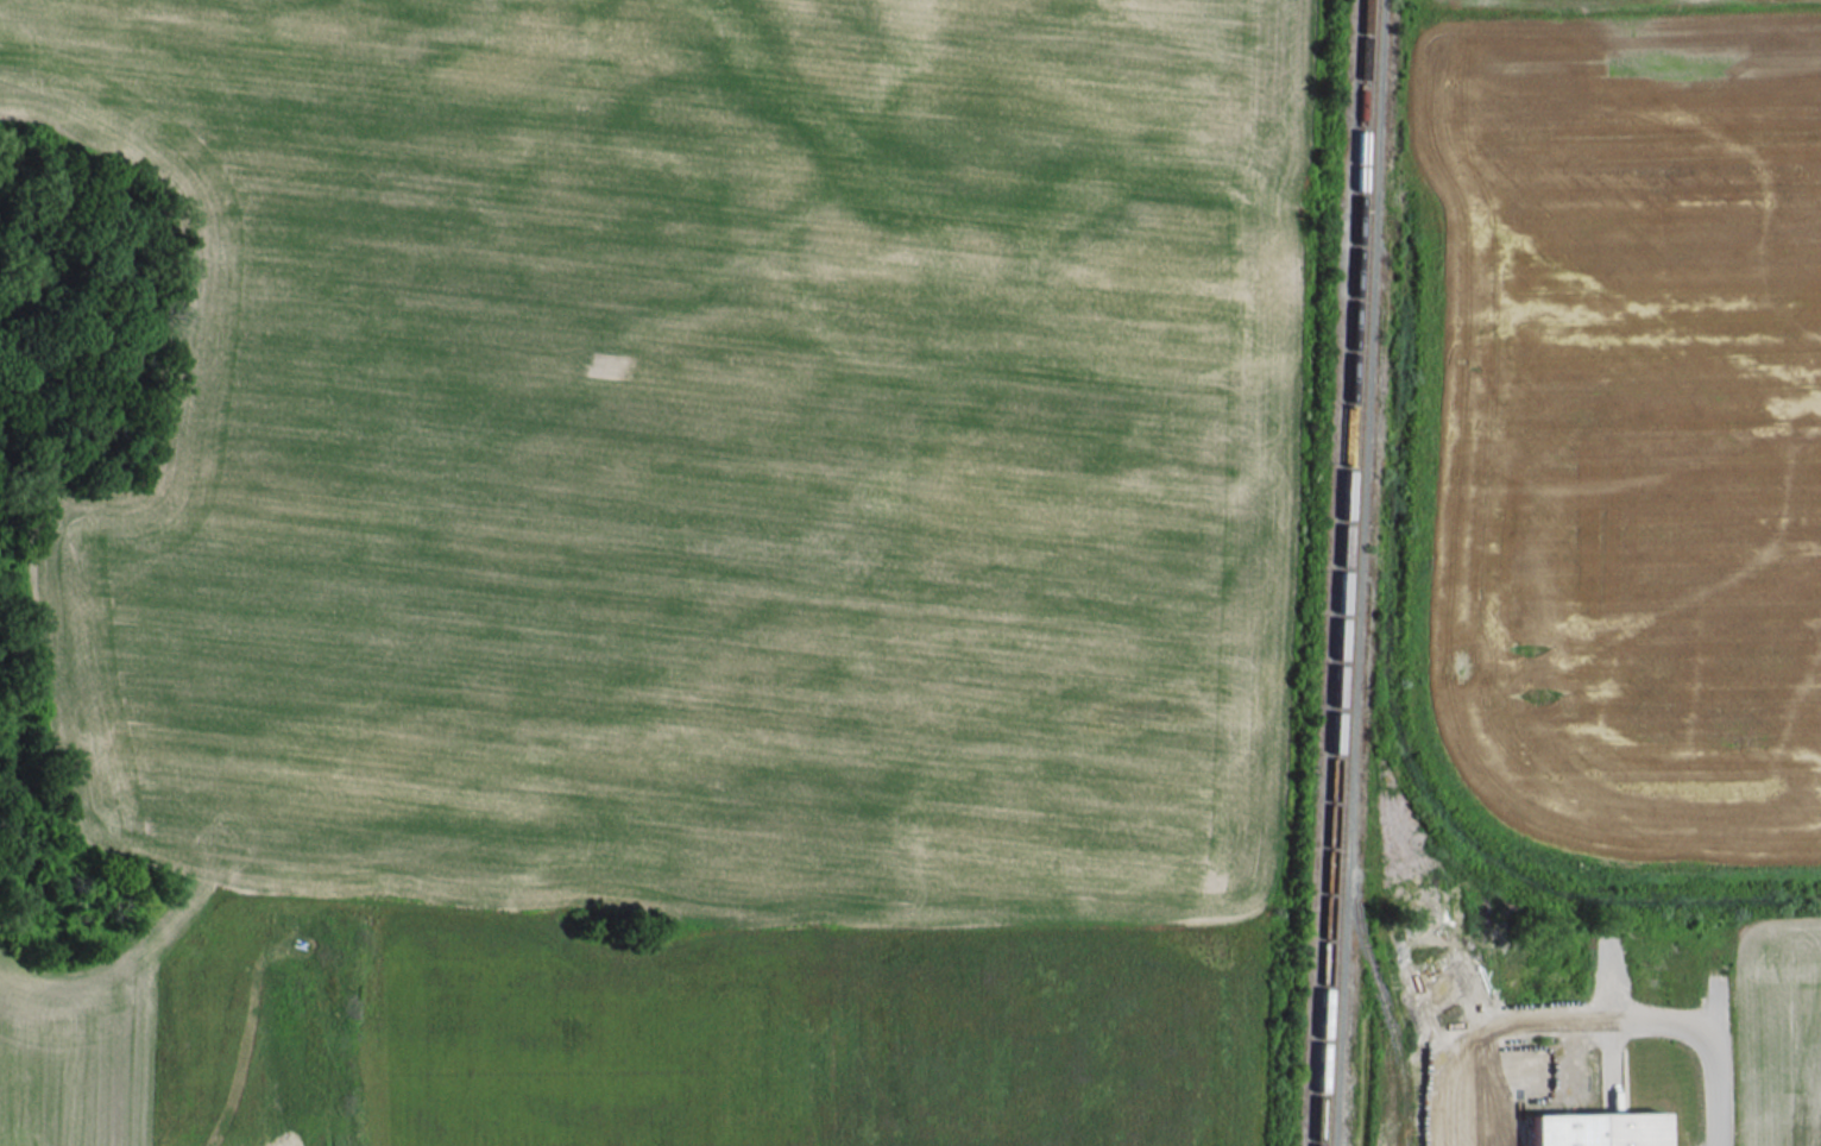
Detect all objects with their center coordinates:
railway: (1340, 573)
railway: (1351, 573)
road: (1706, 1040)
building: (1593, 1129)

